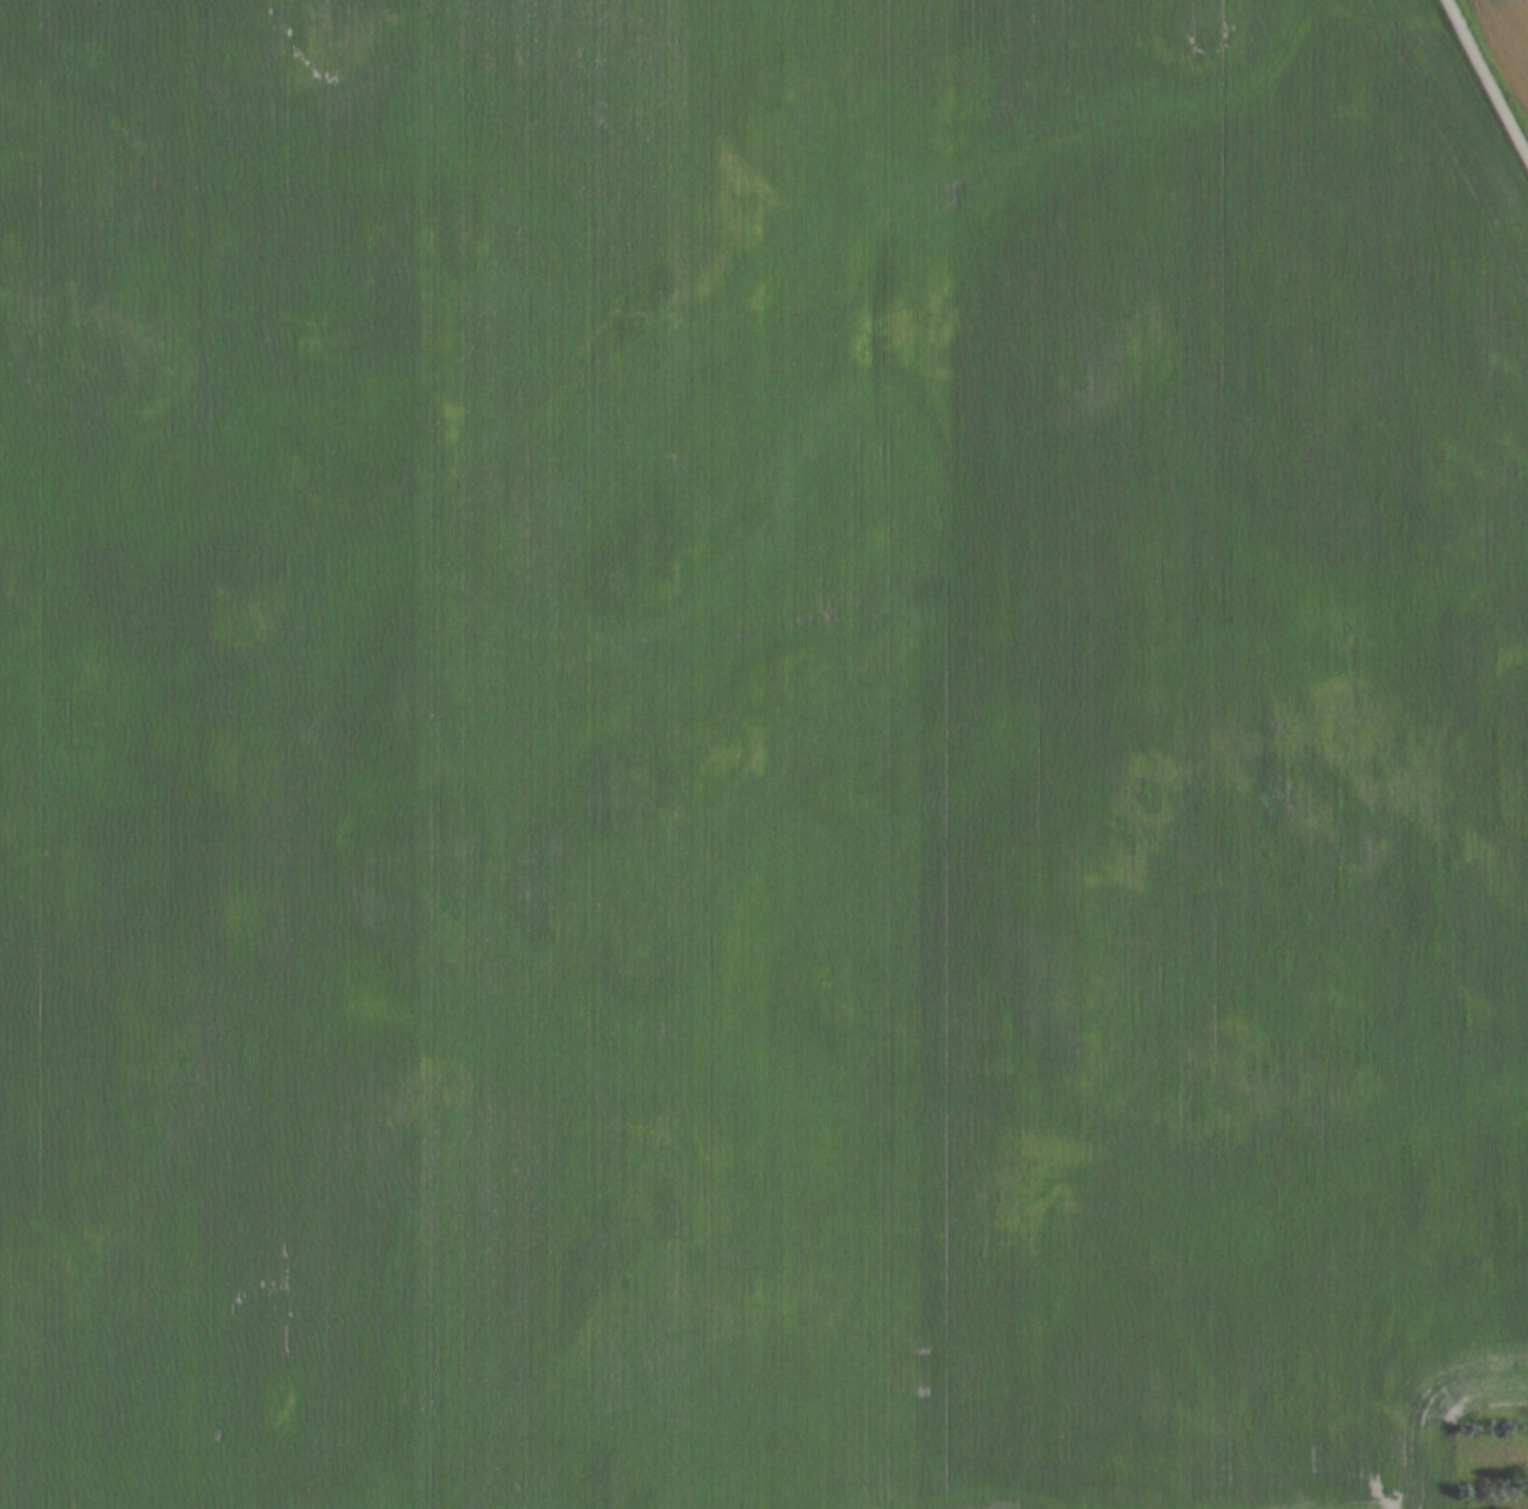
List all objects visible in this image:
road: (1486, 80)

